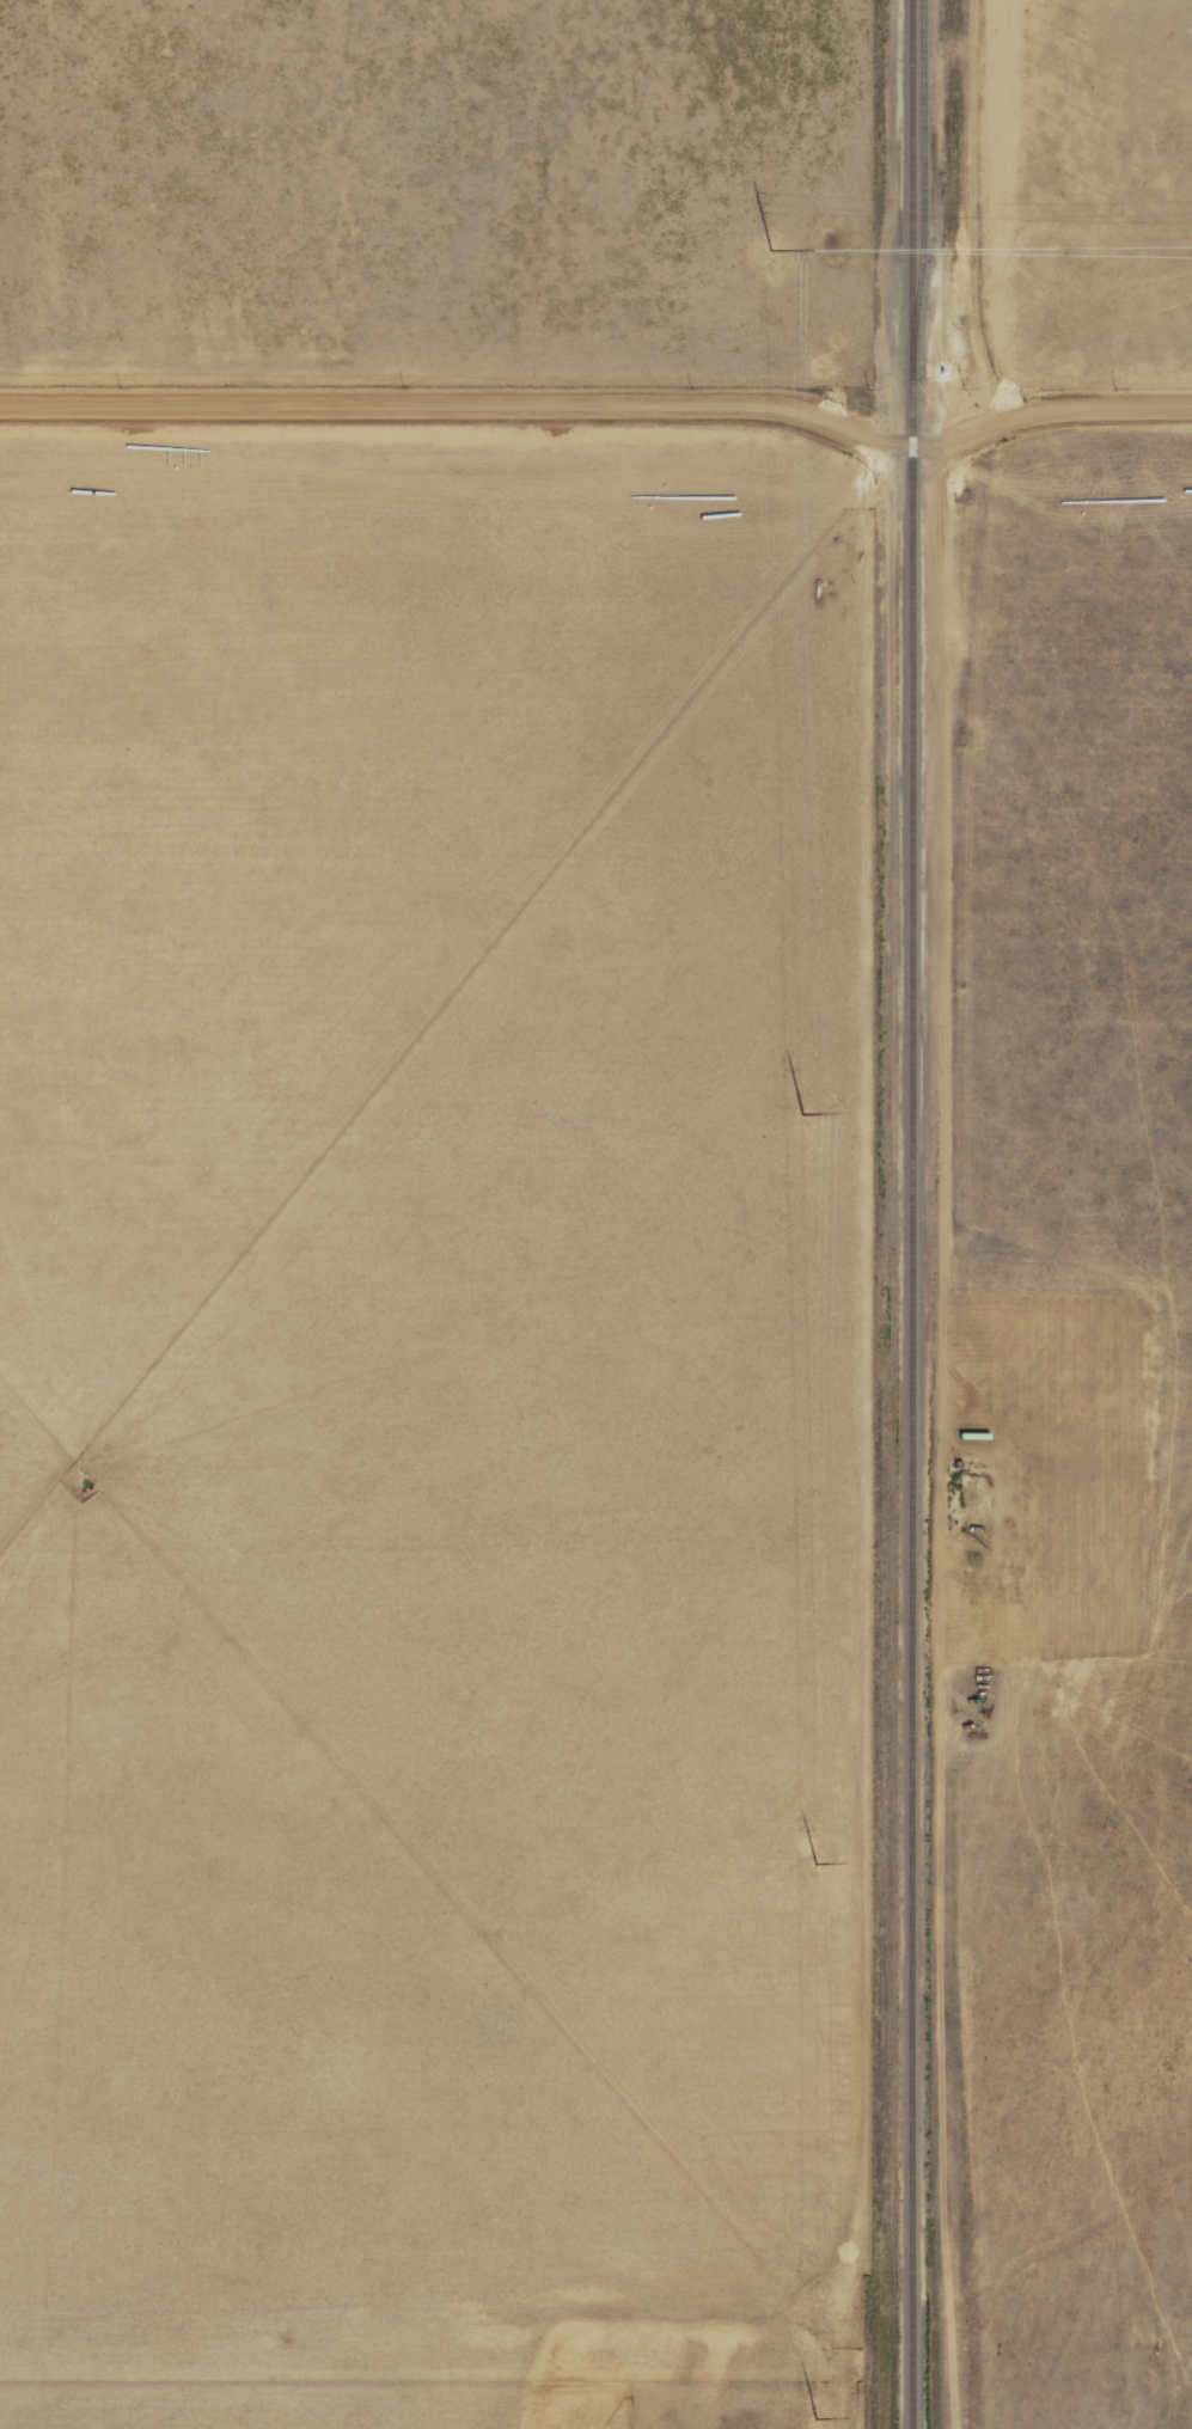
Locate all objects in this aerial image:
railway: (923, 177)
road: (603, 408)
railway: (911, 1213)

